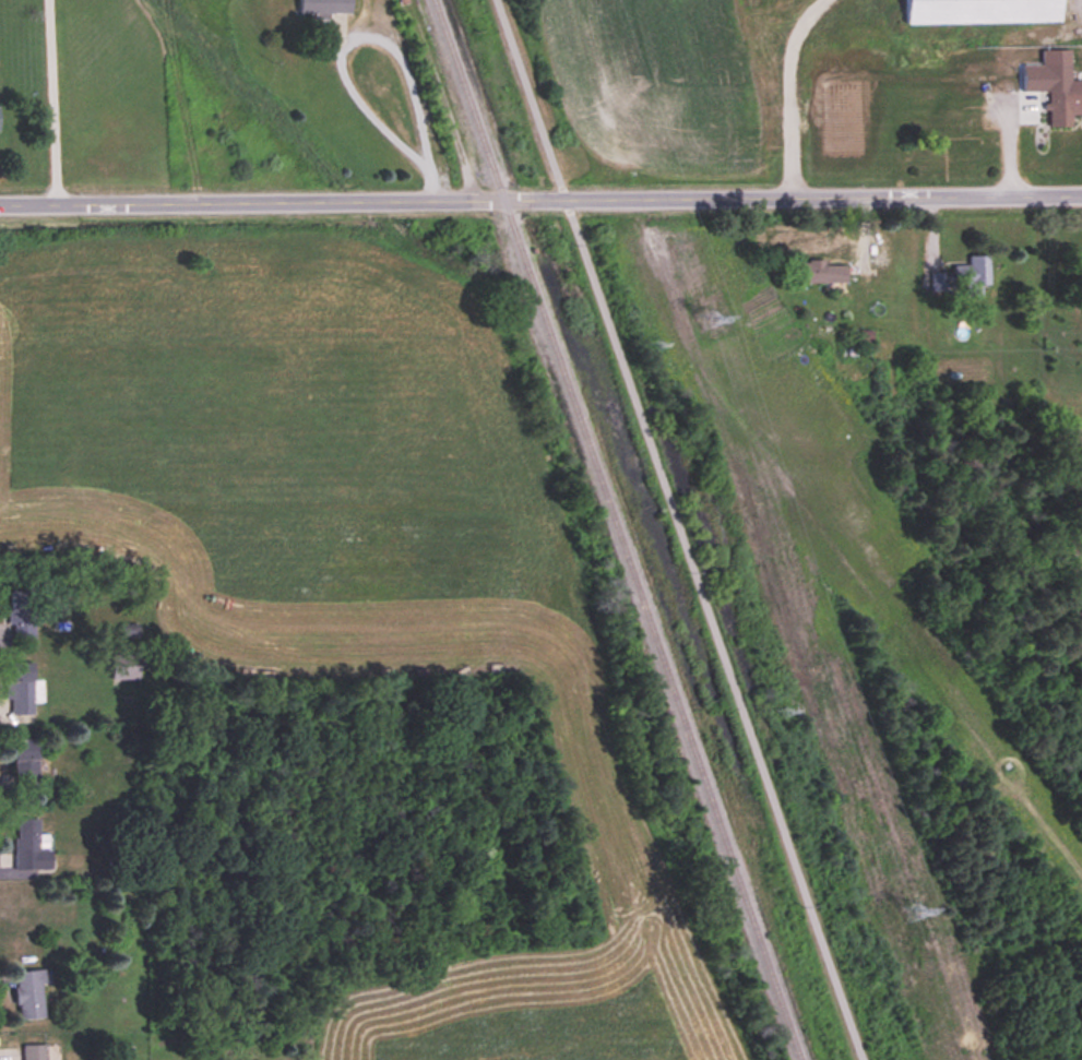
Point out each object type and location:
building: (324, 7)
building: (983, 12)
road: (335, 45)
road: (1012, 86)
road: (792, 95)
building: (1062, 97)
road: (52, 100)
road: (540, 201)
building: (820, 274)
building: (964, 279)
power tower: (708, 321)
power tower: (659, 341)
railway: (616, 529)
road: (675, 529)
building: (21, 615)
building: (124, 669)
building: (21, 689)
building: (25, 762)
building: (28, 847)
power tower: (913, 913)
building: (29, 995)
building: (32, 1052)

